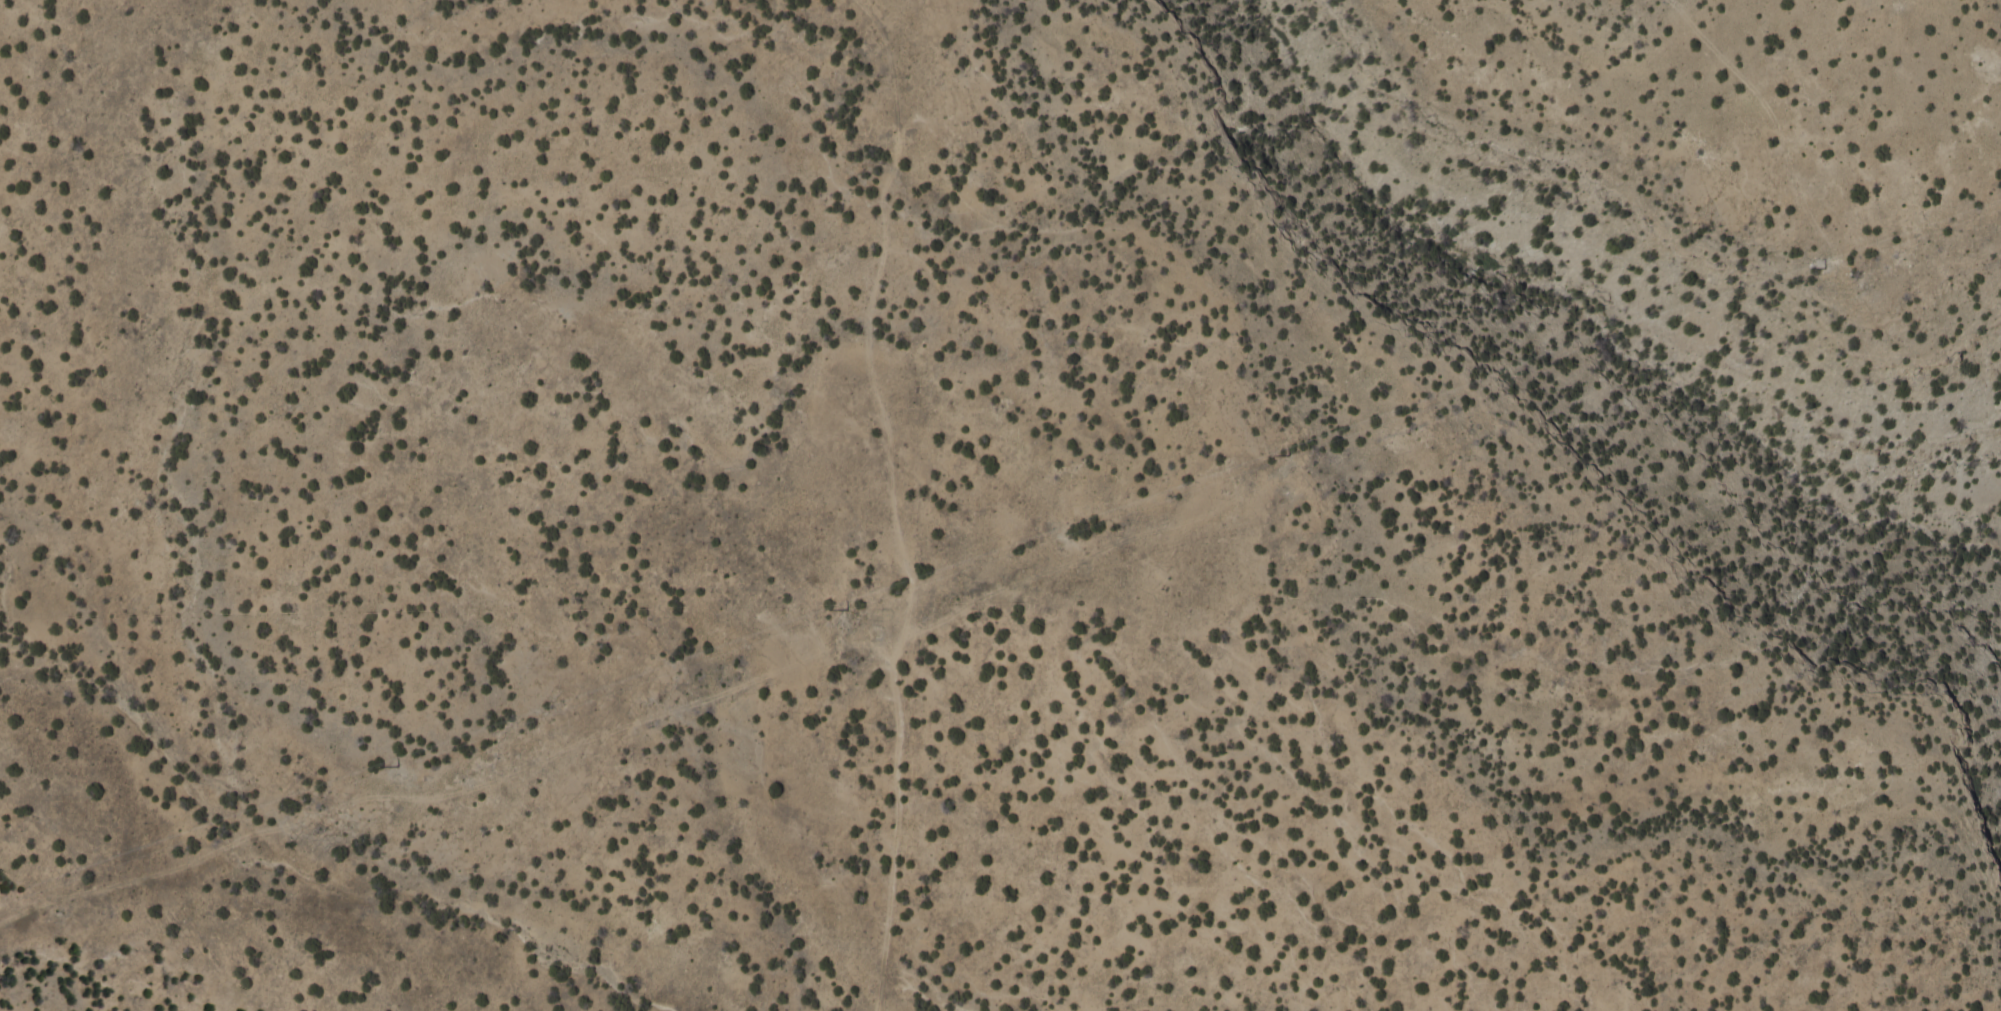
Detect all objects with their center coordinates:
road: (929, 494)

